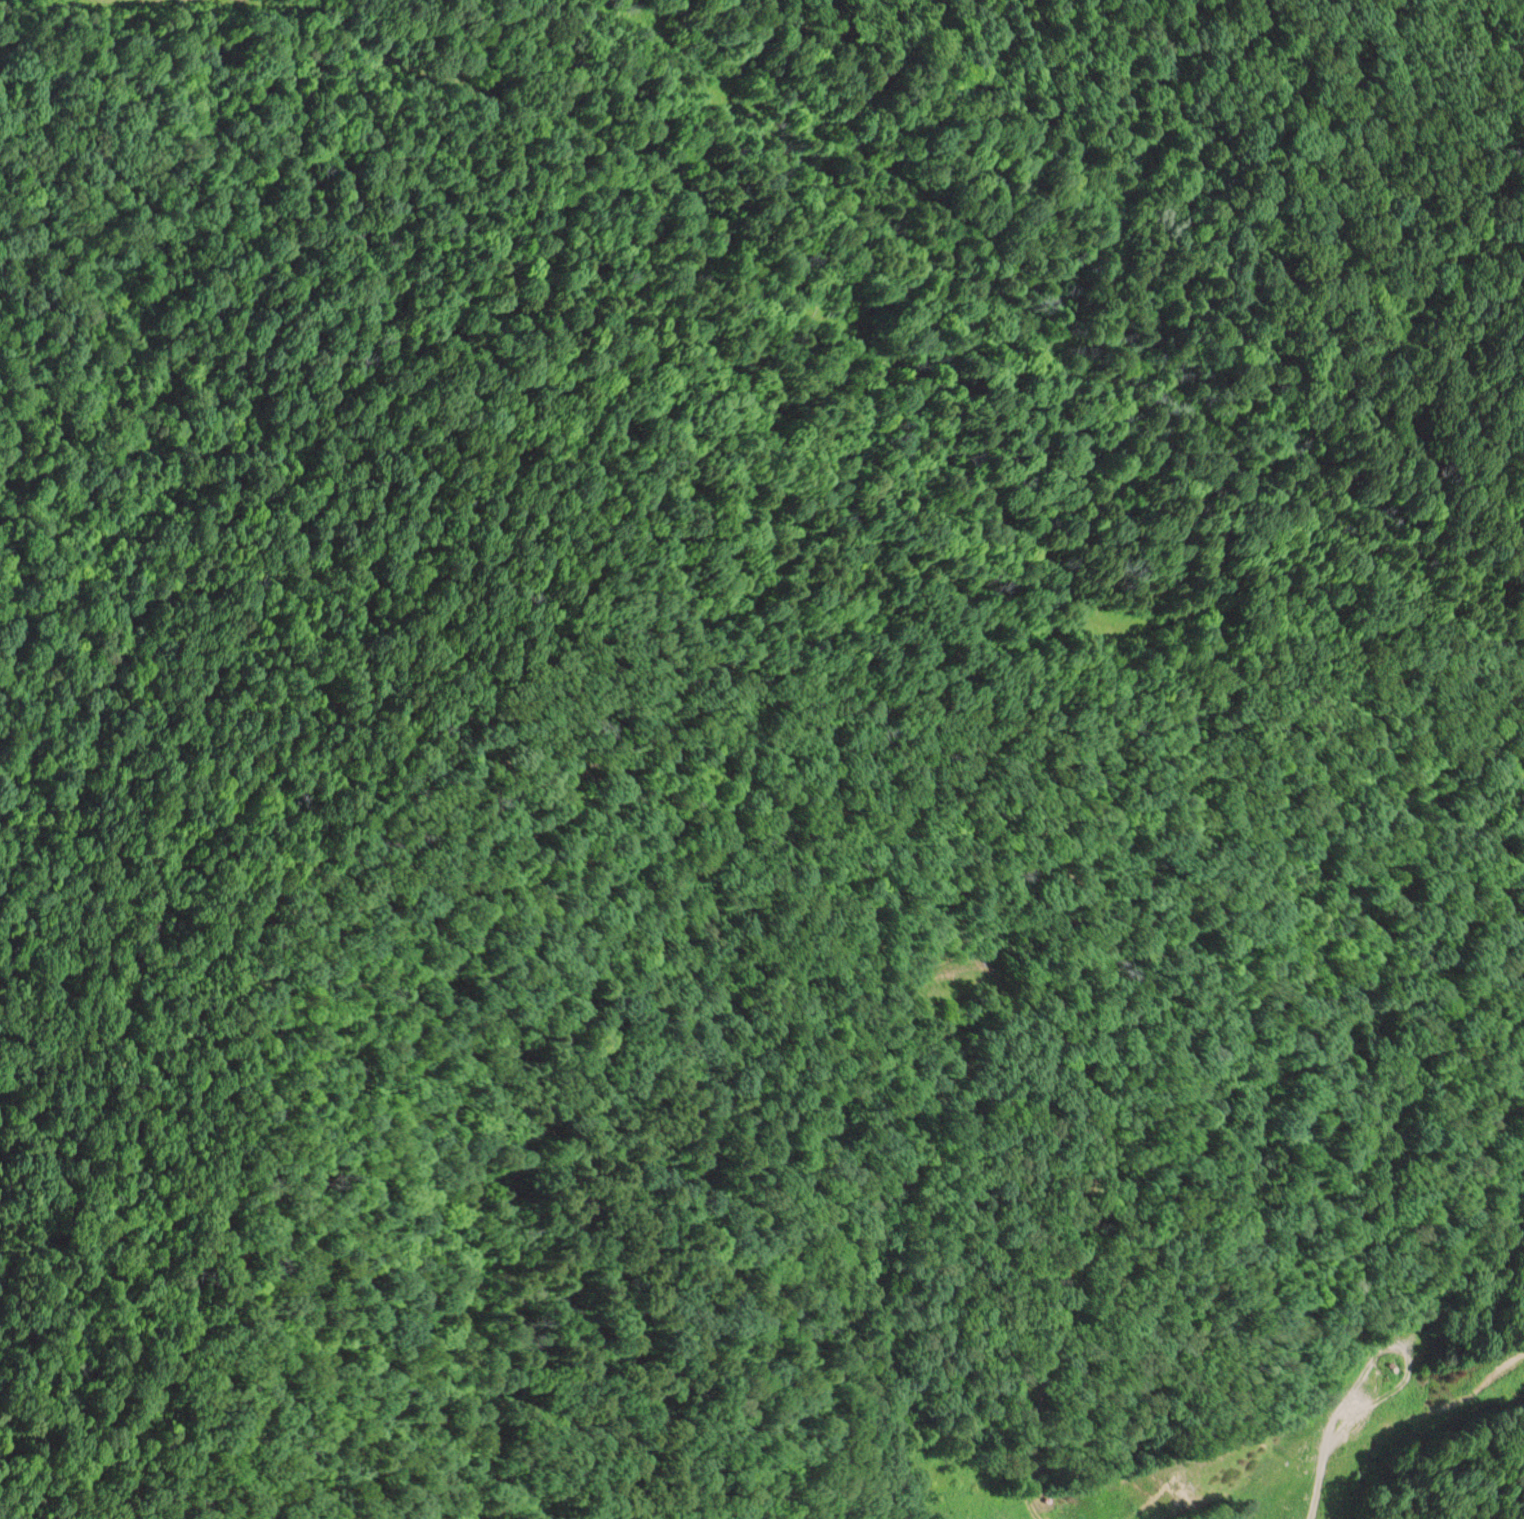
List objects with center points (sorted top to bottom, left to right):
road: (211, 42)

